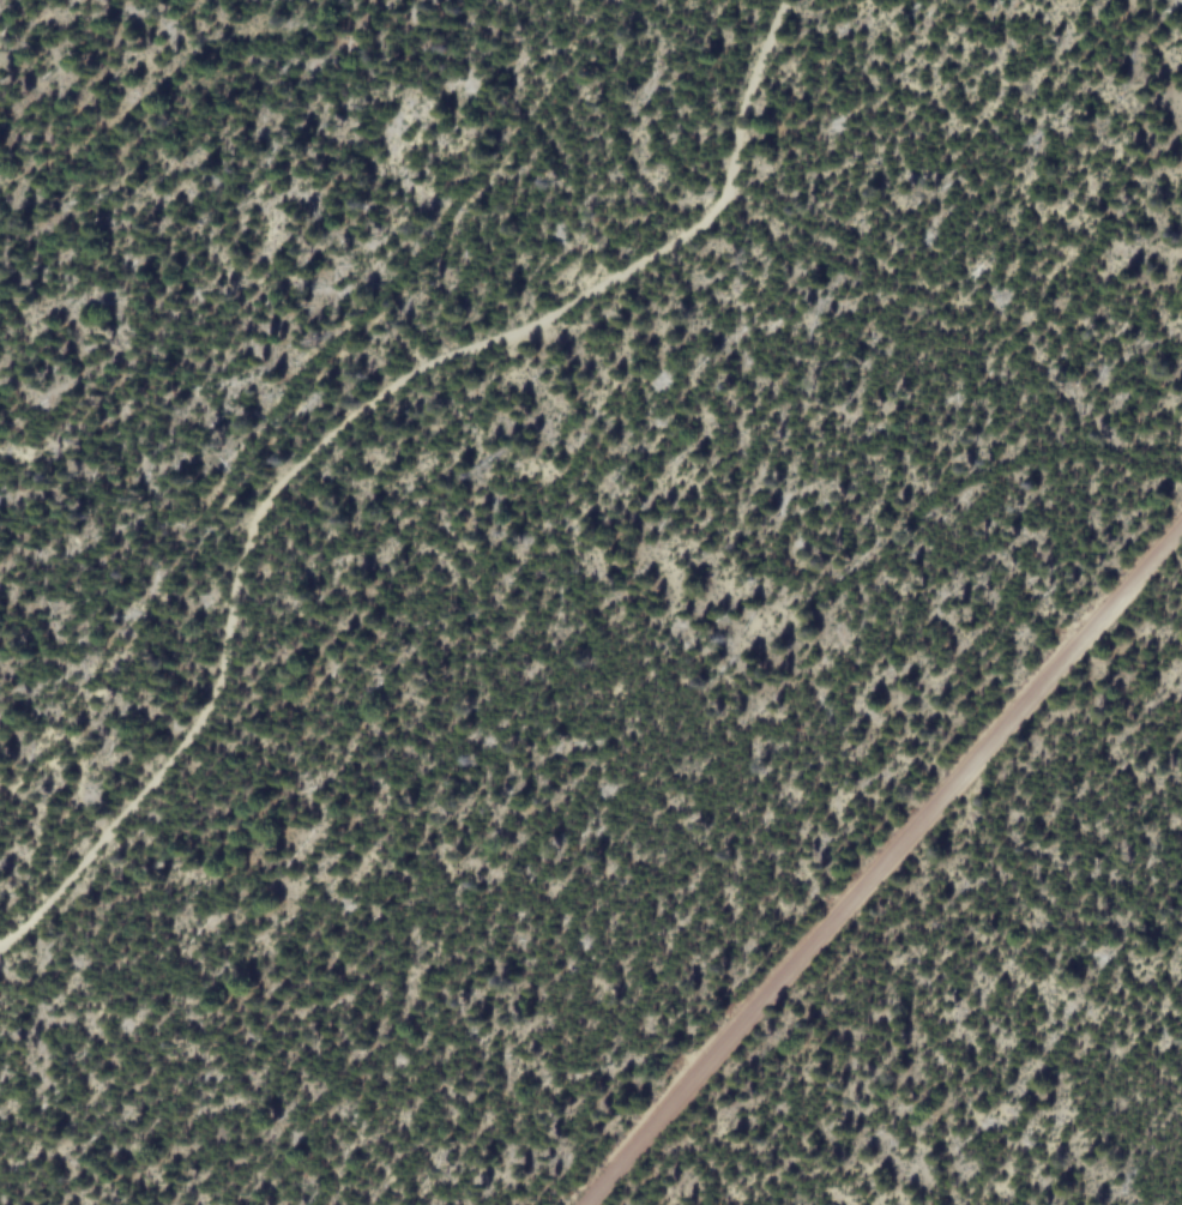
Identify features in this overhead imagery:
road: (349, 418)
road: (881, 863)

